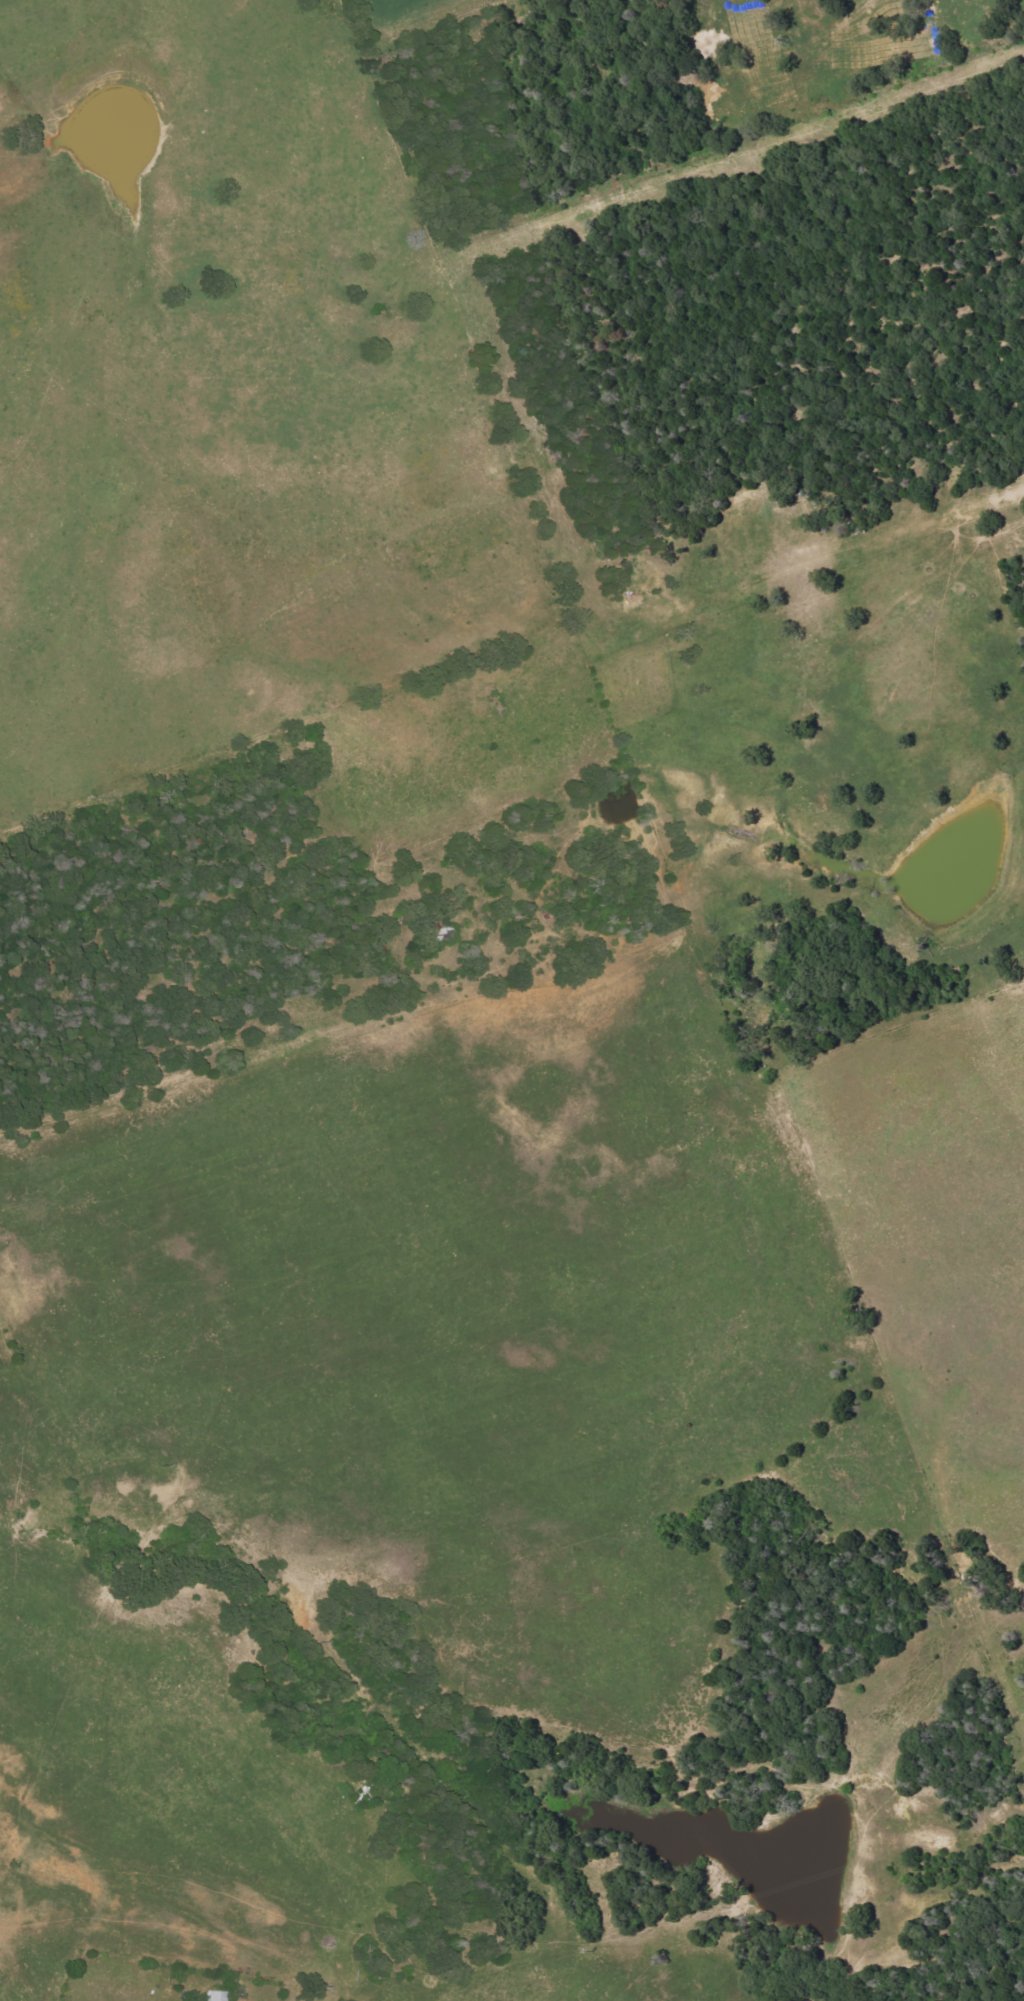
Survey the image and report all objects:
building: (216, 1995)

